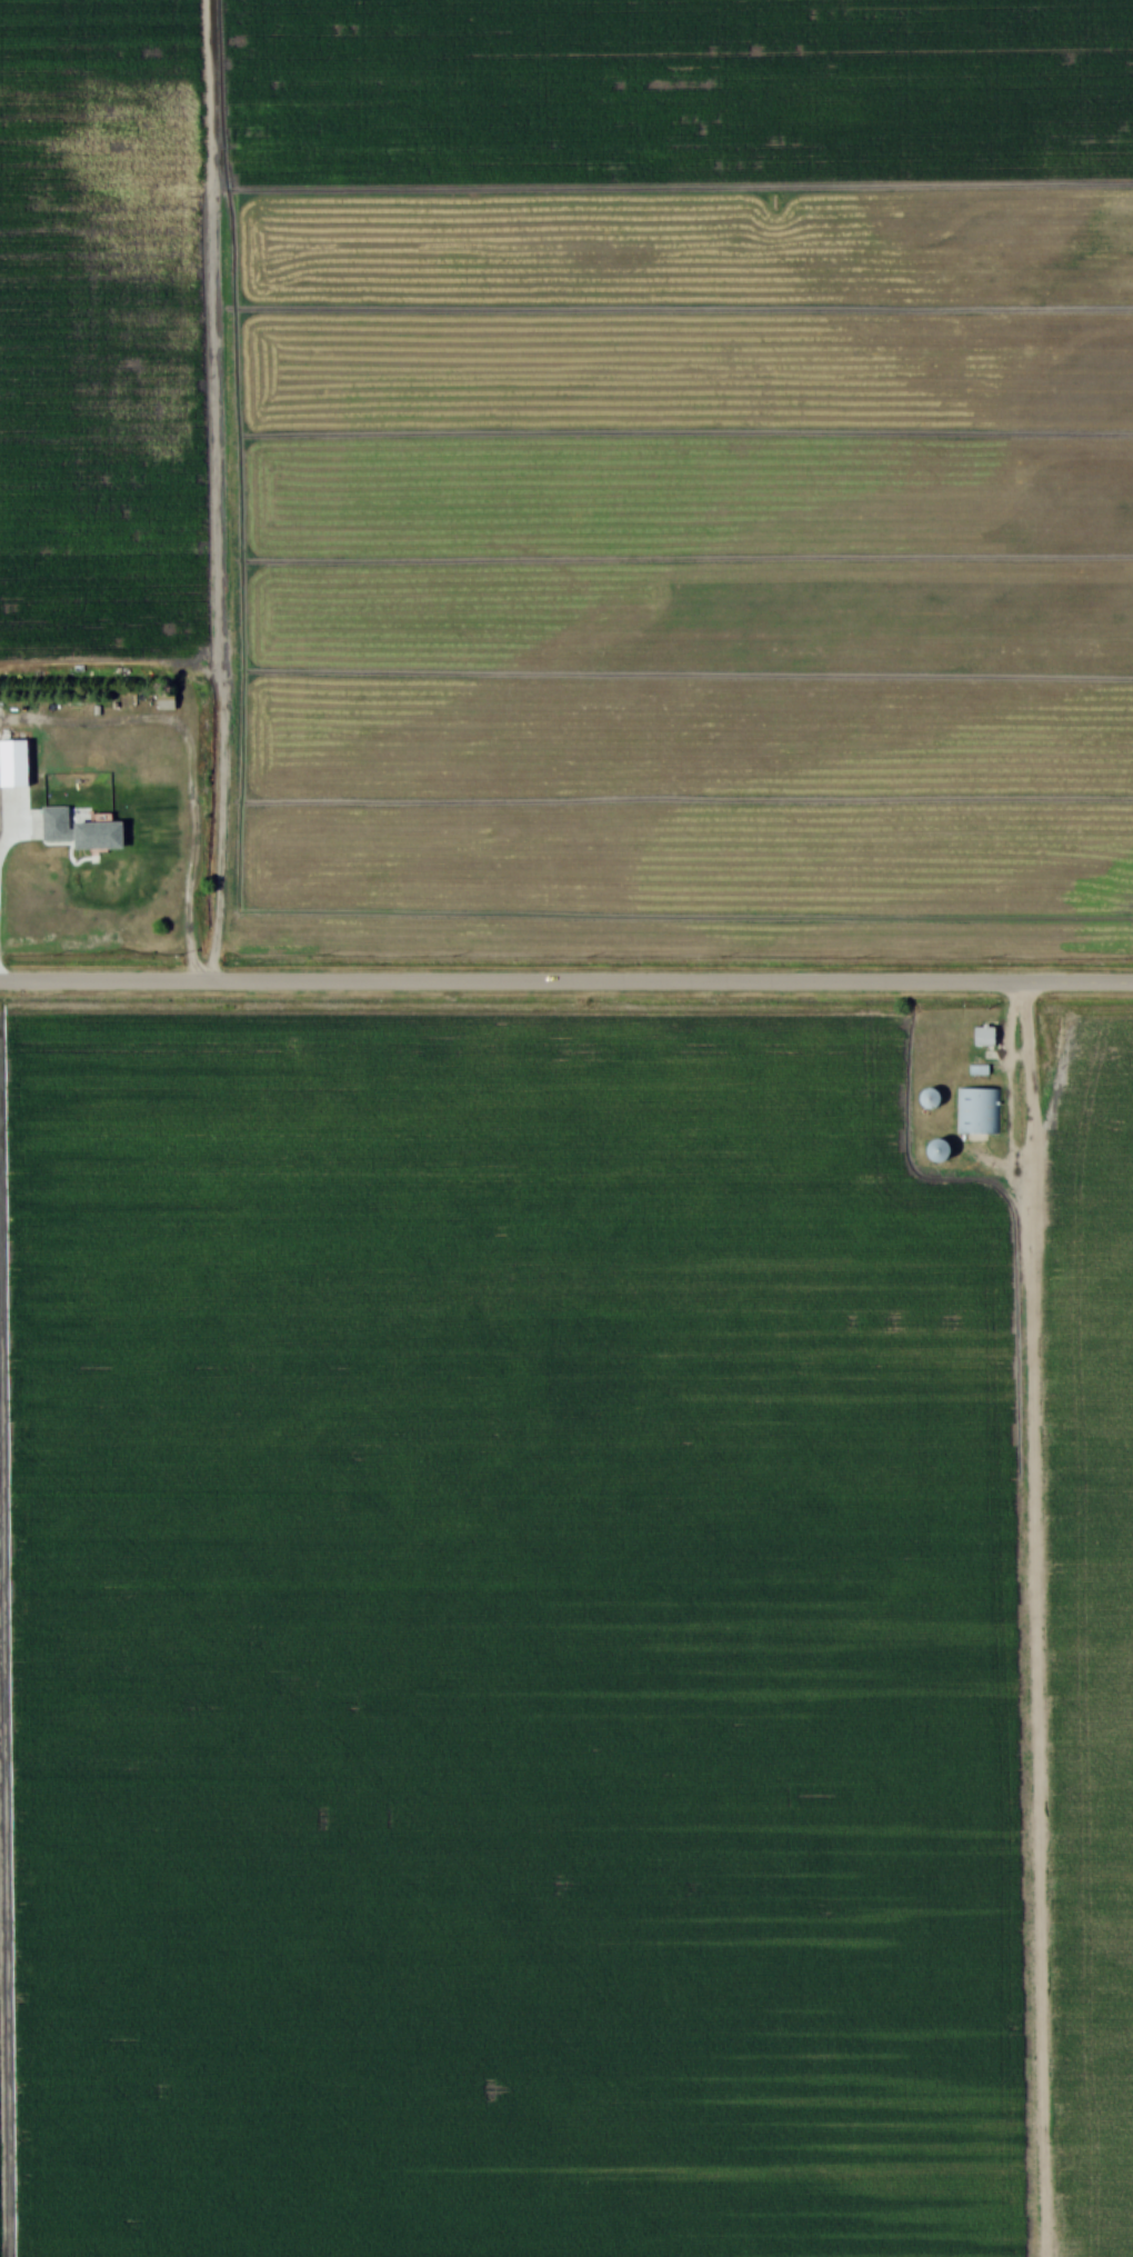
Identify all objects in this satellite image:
crop: (107, 327)
crop: (685, 476)
building: (169, 700)
road: (566, 985)
building: (987, 1033)
building: (981, 1067)
building: (935, 1096)
building: (979, 1108)
road: (1031, 1113)
building: (946, 1148)
crop: (509, 1642)

